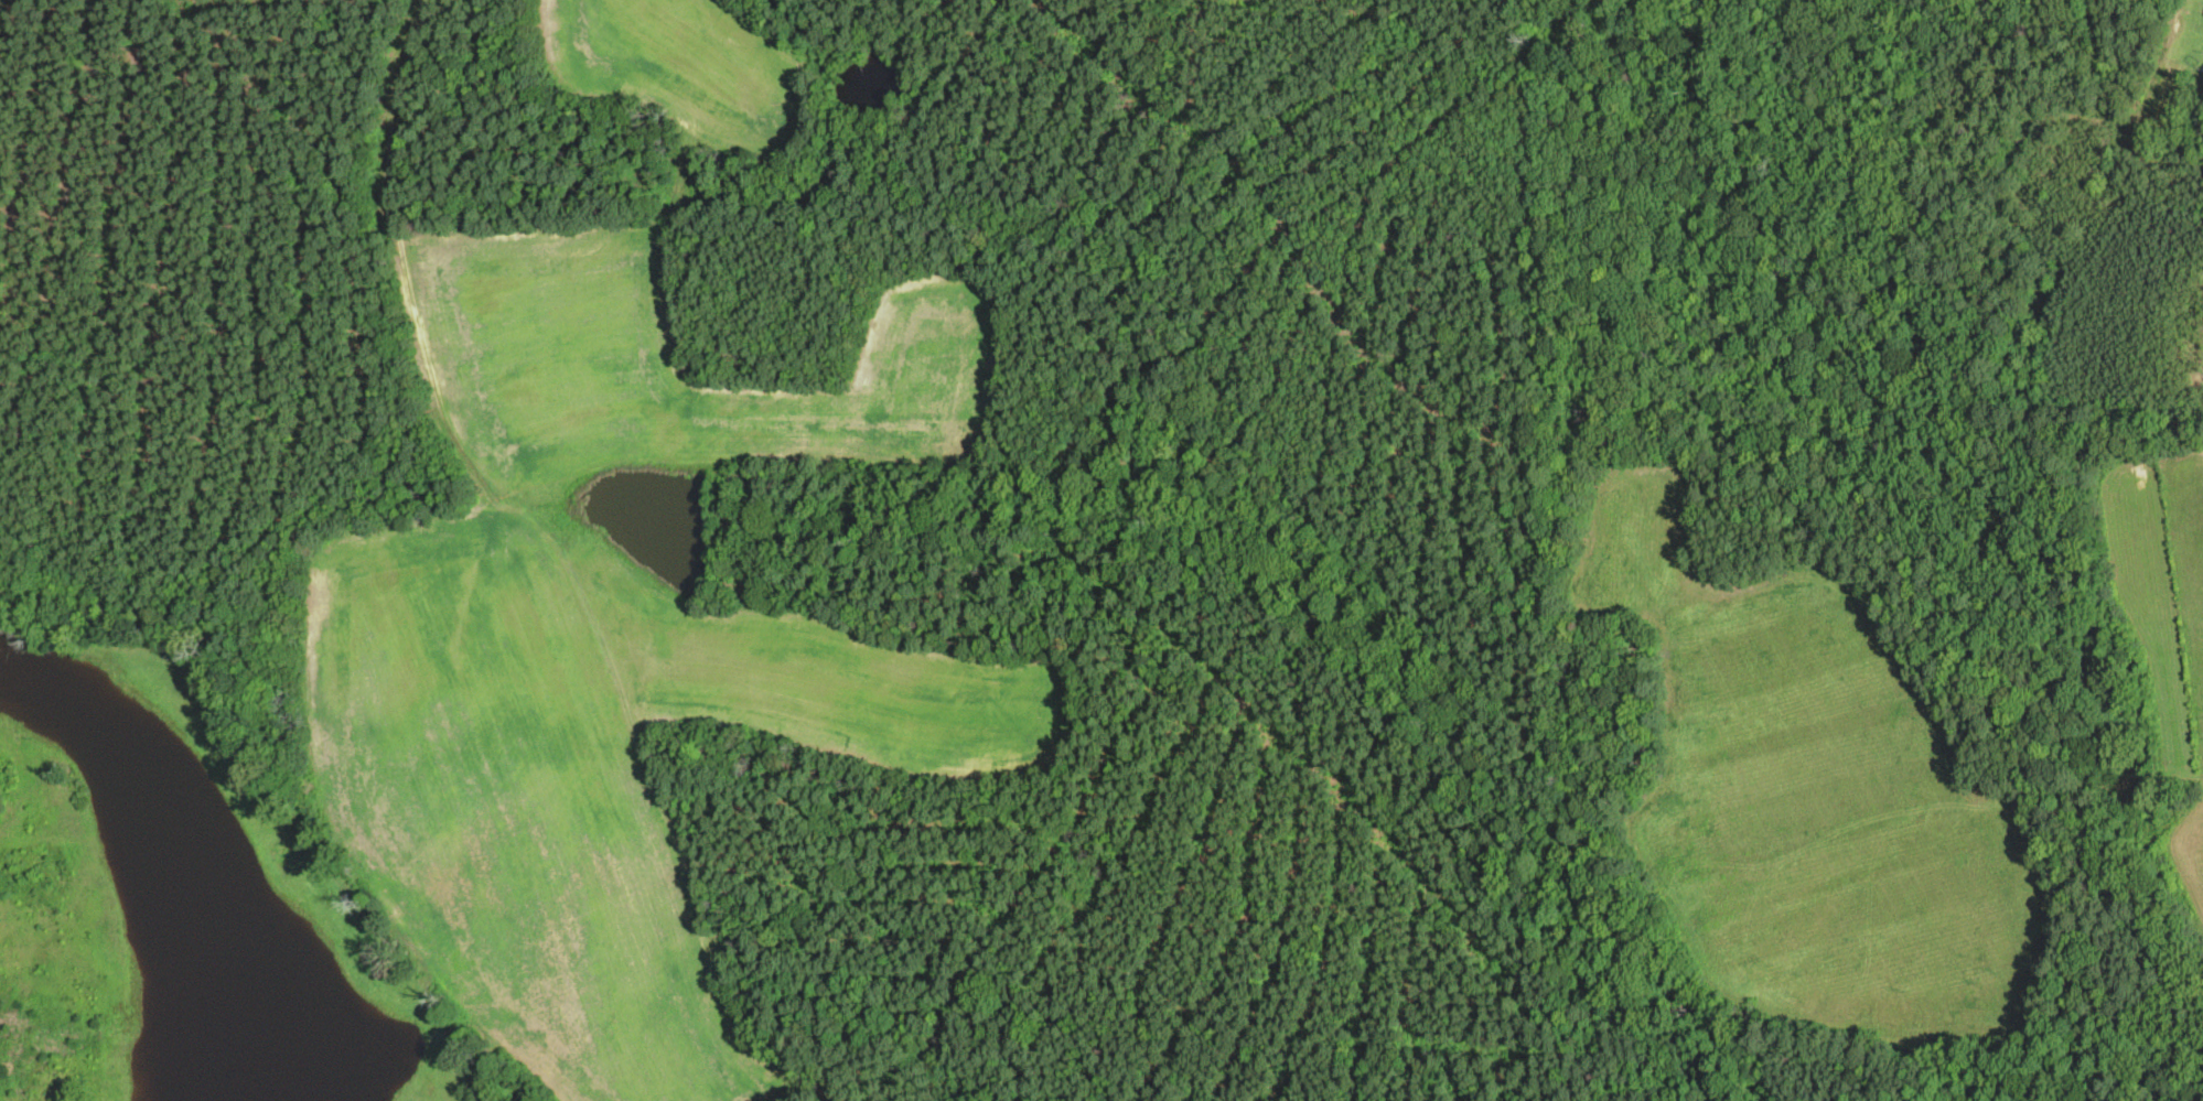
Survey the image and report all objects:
road: (1636, 922)

